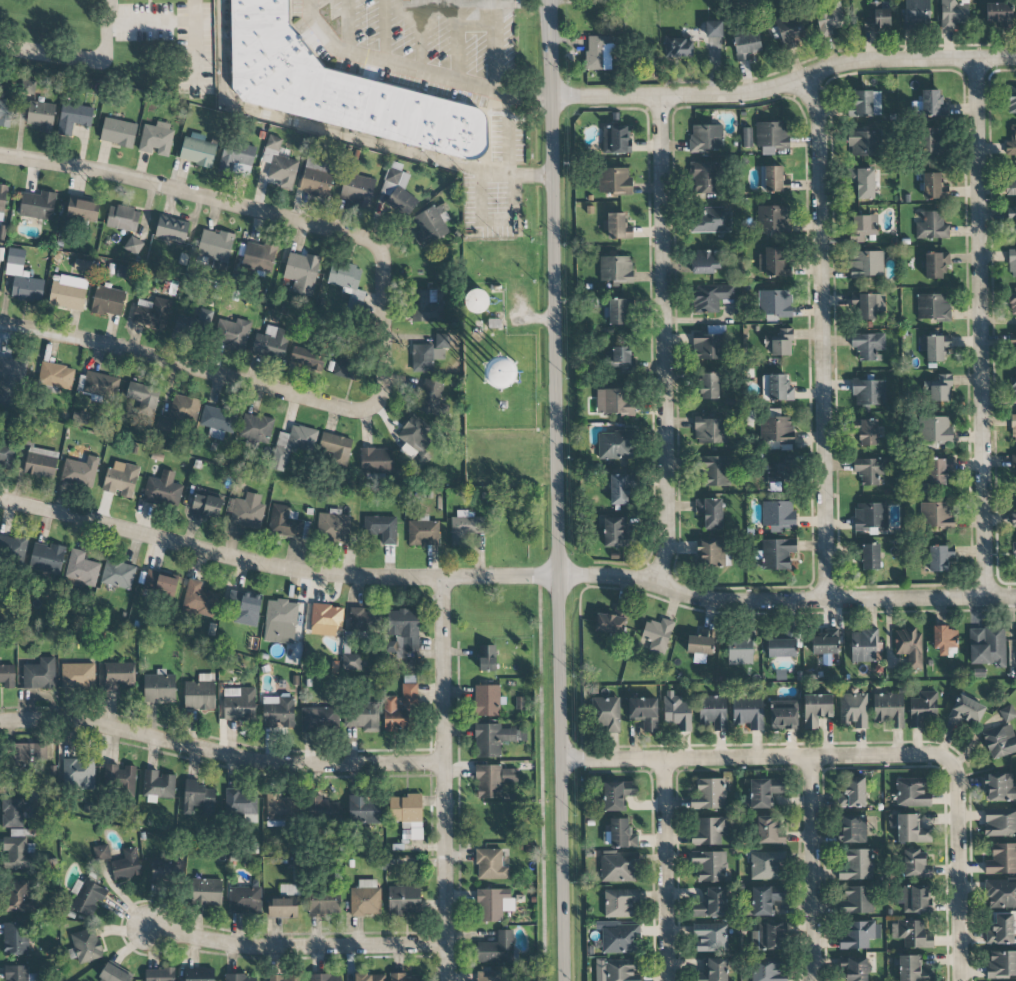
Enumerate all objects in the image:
road: (428, 2)
road: (109, 11)
building: (953, 13)
building: (917, 14)
building: (876, 15)
building: (1000, 15)
building: (829, 18)
road: (347, 26)
building: (713, 29)
road: (380, 31)
building: (789, 32)
road: (194, 41)
road: (492, 42)
building: (745, 45)
road: (101, 47)
building: (678, 47)
building: (598, 52)
road: (386, 63)
building: (338, 88)
road: (783, 93)
building: (1011, 98)
road: (520, 99)
building: (867, 103)
building: (932, 103)
building: (5, 112)
building: (41, 116)
building: (74, 116)
building: (118, 132)
road: (336, 133)
road: (506, 136)
building: (706, 137)
building: (772, 137)
building: (156, 139)
building: (617, 140)
building: (932, 140)
building: (746, 142)
building: (865, 143)
building: (196, 150)
building: (236, 159)
building: (279, 163)
building: (317, 177)
building: (772, 179)
building: (704, 180)
building: (614, 181)
building: (862, 182)
building: (1011, 183)
building: (932, 186)
building: (357, 189)
building: (397, 190)
building: (2, 201)
building: (37, 205)
building: (82, 210)
road: (262, 214)
building: (1012, 216)
building: (122, 218)
building: (774, 218)
building: (711, 220)
building: (431, 225)
building: (616, 226)
building: (863, 226)
building: (931, 226)
building: (171, 229)
building: (133, 245)
building: (215, 248)
building: (259, 257)
building: (705, 262)
building: (773, 262)
building: (1012, 263)
building: (866, 264)
building: (935, 265)
building: (82, 266)
building: (615, 269)
building: (300, 273)
building: (344, 275)
building: (22, 278)
building: (68, 293)
building: (711, 298)
building: (107, 301)
building: (475, 301)
building: (1012, 301)
building: (774, 303)
building: (426, 306)
building: (866, 306)
building: (933, 306)
building: (616, 312)
building: (152, 313)
building: (195, 321)
building: (234, 333)
road: (983, 335)
building: (1013, 339)
building: (781, 342)
building: (271, 343)
road: (668, 343)
road: (826, 344)
building: (921, 344)
building: (867, 345)
building: (936, 347)
building: (430, 353)
building: (307, 357)
building: (620, 360)
building: (348, 361)
road: (191, 369)
building: (499, 372)
building: (55, 376)
building: (10, 377)
building: (1014, 384)
building: (98, 385)
building: (707, 386)
building: (776, 388)
building: (938, 389)
building: (868, 392)
building: (142, 397)
building: (431, 399)
building: (613, 402)
building: (178, 412)
building: (80, 418)
building: (217, 421)
building: (255, 428)
building: (1013, 428)
building: (776, 429)
building: (935, 430)
building: (710, 431)
building: (866, 432)
building: (292, 445)
building: (615, 445)
building: (334, 449)
building: (7, 457)
building: (375, 461)
building: (40, 463)
building: (1014, 468)
building: (781, 470)
building: (869, 470)
building: (80, 471)
building: (714, 471)
building: (938, 471)
building: (120, 479)
building: (620, 489)
road: (556, 490)
building: (163, 491)
building: (206, 505)
building: (248, 511)
building: (710, 512)
building: (1014, 513)
building: (778, 515)
building: (937, 515)
building: (870, 517)
building: (283, 522)
building: (333, 527)
building: (465, 527)
building: (381, 528)
building: (423, 532)
building: (612, 532)
building: (12, 549)
building: (1014, 550)
building: (710, 553)
building: (777, 553)
building: (870, 557)
building: (47, 558)
building: (940, 558)
building: (81, 569)
building: (118, 574)
road: (505, 577)
building: (160, 582)
building: (198, 600)
building: (244, 608)
building: (325, 620)
building: (363, 621)
building: (280, 622)
building: (609, 624)
building: (403, 629)
building: (656, 635)
building: (944, 640)
building: (701, 642)
building: (824, 643)
building: (782, 644)
building: (865, 646)
building: (987, 646)
building: (740, 648)
building: (908, 648)
building: (487, 658)
building: (351, 662)
building: (39, 674)
building: (119, 675)
building: (7, 676)
building: (77, 676)
building: (159, 688)
building: (200, 694)
building: (487, 700)
building: (239, 704)
building: (816, 709)
building: (888, 709)
building: (922, 709)
building: (853, 710)
building: (966, 710)
building: (676, 711)
building: (278, 712)
building: (644, 712)
building: (713, 712)
building: (606, 713)
building: (1007, 713)
building: (747, 714)
building: (784, 715)
building: (361, 717)
building: (319, 719)
building: (494, 739)
building: (1000, 741)
road: (220, 753)
building: (30, 756)
road: (756, 758)
road: (458, 773)
building: (78, 774)
building: (119, 778)
road: (445, 780)
building: (492, 780)
building: (158, 786)
building: (1000, 787)
building: (855, 792)
building: (911, 792)
building: (763, 793)
building: (617, 794)
building: (710, 794)
building: (198, 798)
building: (241, 805)
building: (364, 809)
building: (280, 810)
building: (18, 812)
building: (407, 815)
building: (1000, 822)
building: (852, 829)
building: (909, 829)
building: (770, 830)
building: (709, 831)
building: (622, 834)
building: (19, 853)
building: (1001, 859)
building: (913, 864)
building: (126, 865)
building: (490, 865)
building: (767, 865)
building: (857, 865)
building: (710, 866)
building: (618, 867)
road: (813, 869)
road: (665, 870)
road: (958, 871)
building: (167, 874)
building: (206, 892)
building: (999, 892)
building: (18, 896)
building: (88, 898)
building: (365, 898)
building: (764, 899)
building: (915, 899)
building: (244, 900)
building: (404, 900)
building: (855, 900)
building: (324, 902)
building: (284, 903)
building: (620, 903)
building: (493, 904)
building: (711, 904)
building: (1001, 929)
building: (911, 934)
building: (859, 935)
building: (769, 936)
building: (711, 937)
building: (15, 939)
building: (619, 939)
building: (86, 945)
building: (498, 949)
road: (298, 954)
building: (1001, 964)
building: (854, 968)
building: (912, 969)
building: (616, 970)
building: (714, 970)
building: (768, 970)
building: (18, 973)
building: (114, 974)
building: (159, 974)
building: (199, 975)
building: (489, 976)
building: (239, 977)
building: (325, 977)
building: (369, 977)
building: (403, 977)
building: (284, 978)

